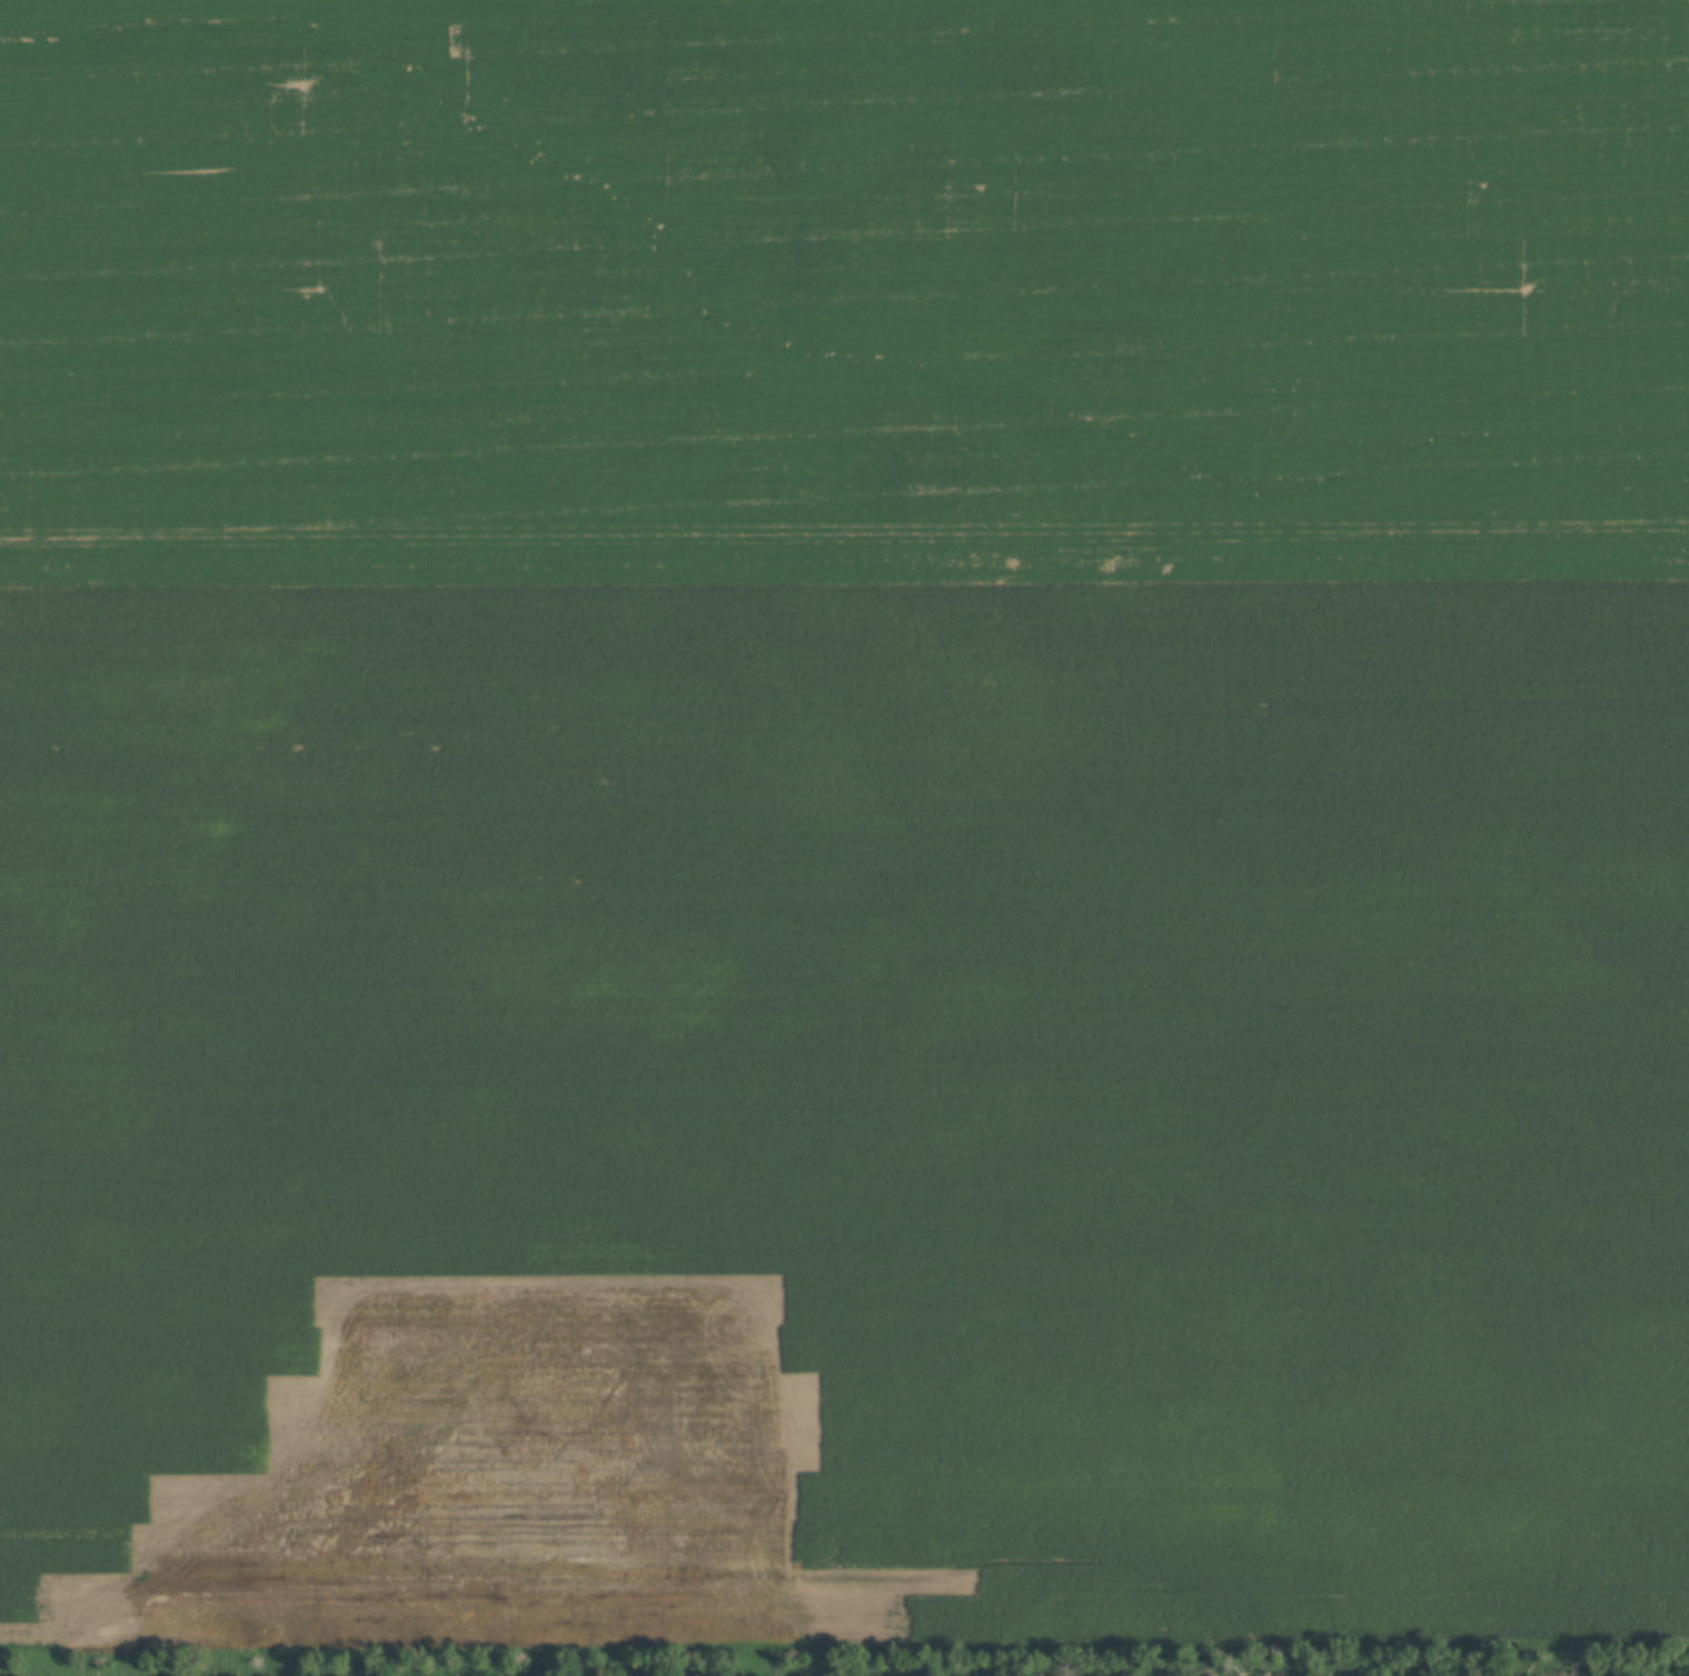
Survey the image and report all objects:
crop: (844, 818)

